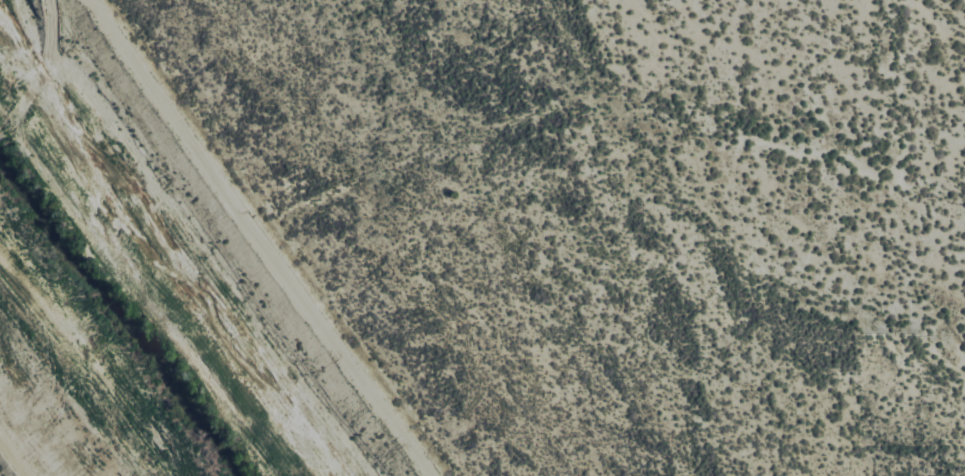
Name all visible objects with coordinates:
road: (180, 238)
crop: (4, 469)

